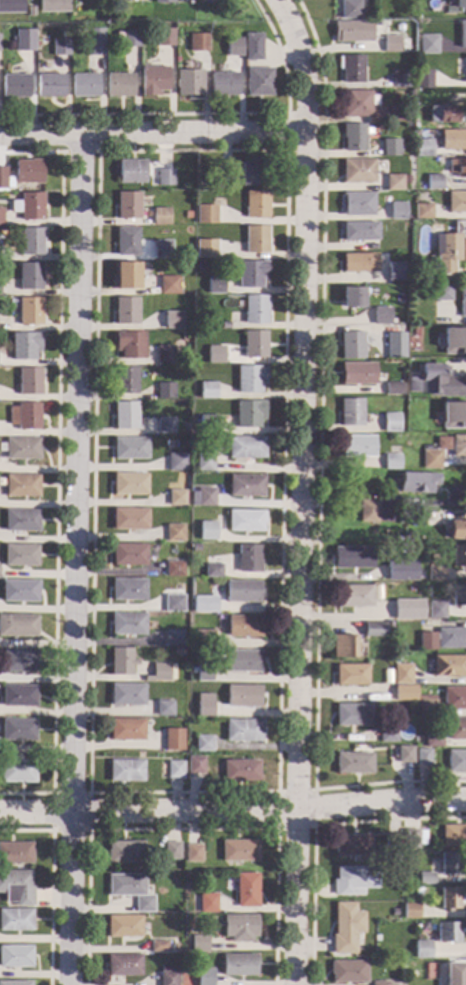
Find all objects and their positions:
building: (163, 1)
building: (460, 4)
building: (11, 6)
building: (52, 6)
building: (140, 6)
building: (31, 7)
building: (218, 7)
building: (349, 9)
building: (448, 10)
building: (246, 24)
building: (353, 32)
building: (64, 34)
building: (462, 34)
building: (164, 38)
building: (129, 39)
building: (24, 42)
building: (94, 42)
building: (198, 42)
building: (391, 44)
building: (427, 45)
building: (60, 47)
building: (234, 47)
building: (253, 51)
building: (179, 65)
building: (351, 69)
building: (465, 69)
building: (401, 79)
building: (423, 79)
building: (153, 80)
building: (258, 82)
building: (189, 83)
building: (223, 84)
building: (119, 85)
building: (15, 86)
building: (49, 86)
building: (84, 86)
building: (410, 94)
building: (356, 104)
road: (203, 114)
building: (395, 114)
building: (443, 114)
road: (153, 133)
building: (353, 138)
building: (453, 140)
building: (390, 148)
building: (423, 148)
road: (286, 150)
road: (96, 151)
building: (457, 167)
building: (358, 171)
building: (28, 172)
building: (132, 172)
building: (254, 172)
building: (165, 177)
building: (224, 179)
building: (5, 180)
building: (394, 182)
building: (434, 182)
building: (421, 186)
building: (456, 202)
building: (358, 204)
building: (256, 205)
building: (128, 206)
building: (29, 207)
building: (397, 211)
building: (423, 211)
building: (206, 214)
building: (188, 215)
building: (1, 217)
building: (161, 217)
building: (359, 232)
building: (256, 240)
building: (29, 241)
building: (127, 241)
building: (373, 247)
building: (204, 248)
building: (448, 249)
building: (163, 250)
building: (225, 253)
building: (359, 263)
building: (395, 272)
building: (251, 274)
building: (414, 275)
building: (127, 276)
building: (30, 277)
building: (161, 285)
building: (215, 286)
building: (415, 288)
building: (441, 293)
building: (352, 297)
building: (462, 301)
building: (255, 309)
building: (27, 311)
building: (126, 311)
building: (381, 316)
building: (400, 319)
building: (172, 320)
building: (224, 325)
building: (149, 326)
building: (396, 337)
building: (454, 341)
building: (254, 344)
building: (131, 345)
building: (25, 346)
building: (351, 346)
building: (8, 354)
building: (166, 355)
building: (215, 355)
building: (357, 374)
building: (250, 379)
building: (126, 380)
building: (29, 381)
building: (435, 382)
building: (392, 389)
building: (207, 390)
building: (165, 391)
building: (350, 412)
building: (248, 414)
building: (125, 415)
building: (453, 416)
building: (25, 417)
building: (390, 422)
building: (207, 424)
building: (165, 426)
building: (356, 446)
building: (458, 446)
building: (245, 447)
building: (22, 449)
building: (131, 449)
building: (431, 460)
building: (205, 462)
building: (392, 462)
building: (176, 463)
building: (194, 466)
road: (56, 469)
road: (318, 469)
building: (416, 482)
building: (130, 484)
building: (22, 486)
building: (245, 486)
road: (301, 489)
building: (177, 498)
building: (203, 498)
building: (367, 511)
building: (130, 519)
building: (428, 519)
building: (21, 521)
building: (246, 521)
building: (457, 530)
building: (207, 531)
building: (174, 533)
building: (398, 538)
building: (409, 538)
building: (196, 547)
building: (129, 555)
building: (20, 556)
building: (459, 557)
building: (355, 558)
building: (433, 558)
road: (75, 559)
building: (248, 559)
building: (175, 569)
building: (401, 569)
building: (213, 571)
building: (435, 573)
building: (129, 590)
building: (20, 591)
building: (242, 592)
building: (354, 596)
building: (459, 596)
building: (174, 603)
building: (206, 606)
building: (402, 610)
building: (436, 611)
building: (128, 624)
building: (389, 625)
building: (18, 626)
building: (244, 626)
building: (373, 629)
building: (203, 637)
building: (174, 638)
building: (451, 639)
building: (426, 641)
building: (343, 646)
building: (178, 651)
building: (396, 656)
building: (19, 661)
building: (122, 661)
building: (243, 661)
building: (449, 666)
building: (161, 673)
building: (204, 674)
building: (402, 674)
building: (351, 675)
building: (405, 693)
building: (127, 694)
building: (19, 696)
building: (243, 696)
building: (454, 698)
building: (205, 705)
building: (425, 707)
building: (164, 709)
building: (353, 715)
building: (456, 729)
building: (18, 730)
building: (127, 730)
building: (243, 730)
building: (387, 734)
building: (174, 739)
building: (432, 741)
building: (203, 744)
building: (405, 754)
building: (423, 757)
building: (456, 761)
building: (353, 763)
building: (196, 765)
building: (176, 770)
building: (241, 770)
building: (18, 771)
building: (126, 771)
road: (277, 791)
road: (233, 812)
road: (276, 828)
road: (183, 829)
road: (313, 829)
road: (88, 830)
building: (453, 836)
building: (413, 839)
building: (392, 842)
building: (353, 845)
building: (172, 850)
building: (239, 851)
building: (16, 853)
building: (125, 853)
building: (193, 853)
building: (449, 863)
building: (354, 879)
building: (426, 879)
road: (50, 882)
building: (16, 887)
building: (247, 890)
building: (131, 891)
building: (418, 891)
building: (451, 899)
building: (208, 903)
building: (411, 911)
building: (16, 920)
building: (124, 927)
building: (240, 928)
building: (346, 928)
building: (448, 932)
building: (199, 944)
building: (158, 946)
building: (174, 947)
building: (423, 949)
building: (15, 957)
building: (124, 965)
building: (239, 965)
building: (417, 968)
building: (349, 972)
building: (455, 974)
building: (205, 977)
building: (169, 978)
building: (15, 983)
building: (380, 983)

